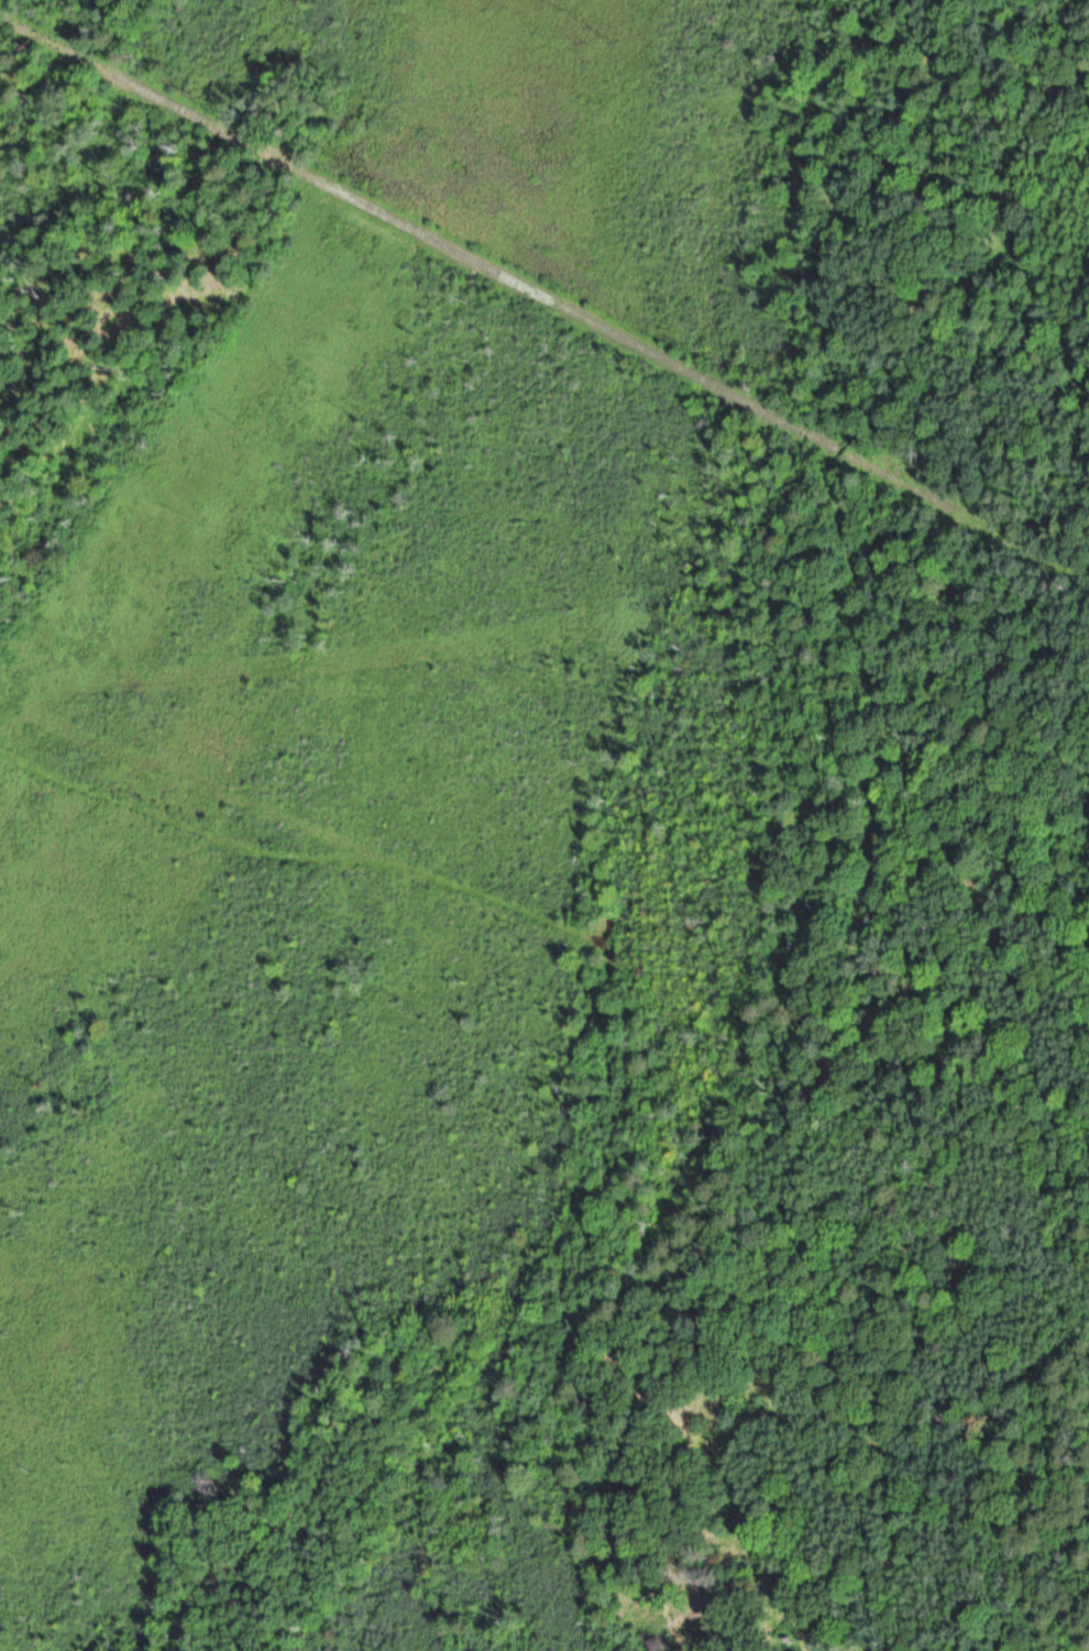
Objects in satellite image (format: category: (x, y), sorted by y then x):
railway: (544, 294)

